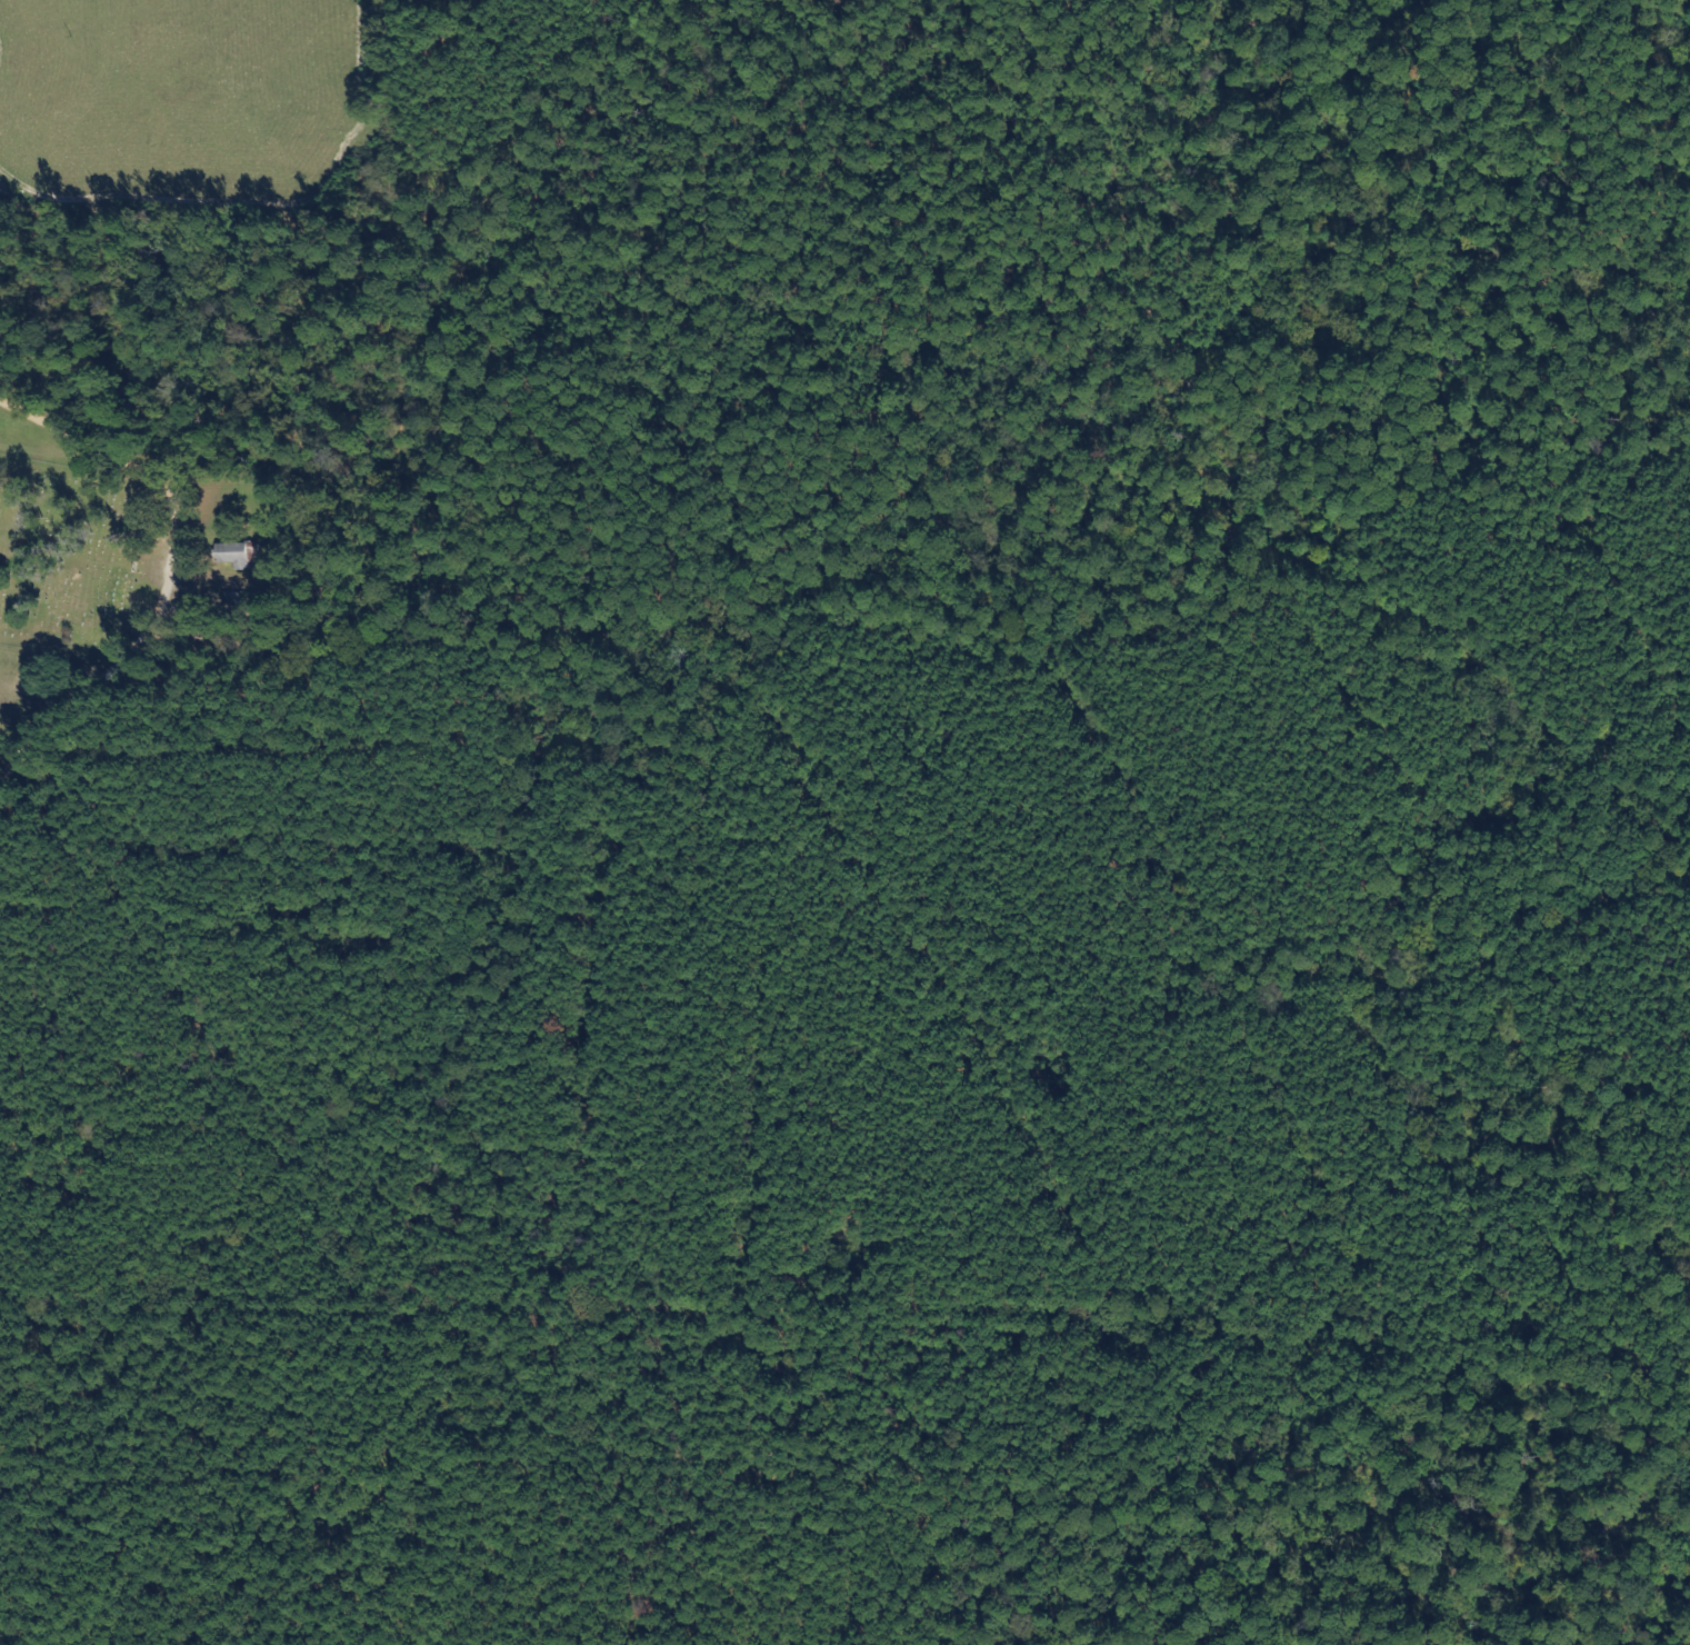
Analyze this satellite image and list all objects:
park: (64, 557)

